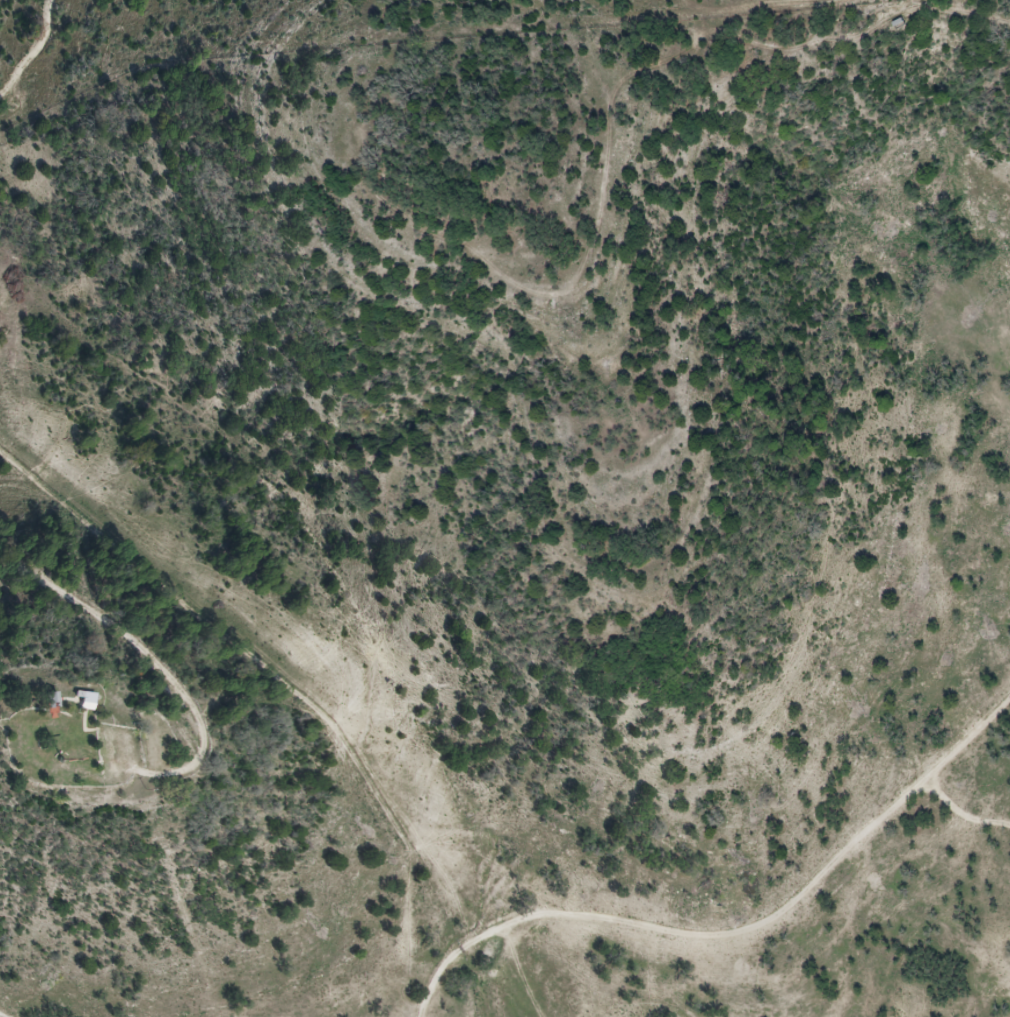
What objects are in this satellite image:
building: (56, 699)
building: (90, 699)
road: (962, 811)
road: (750, 932)

